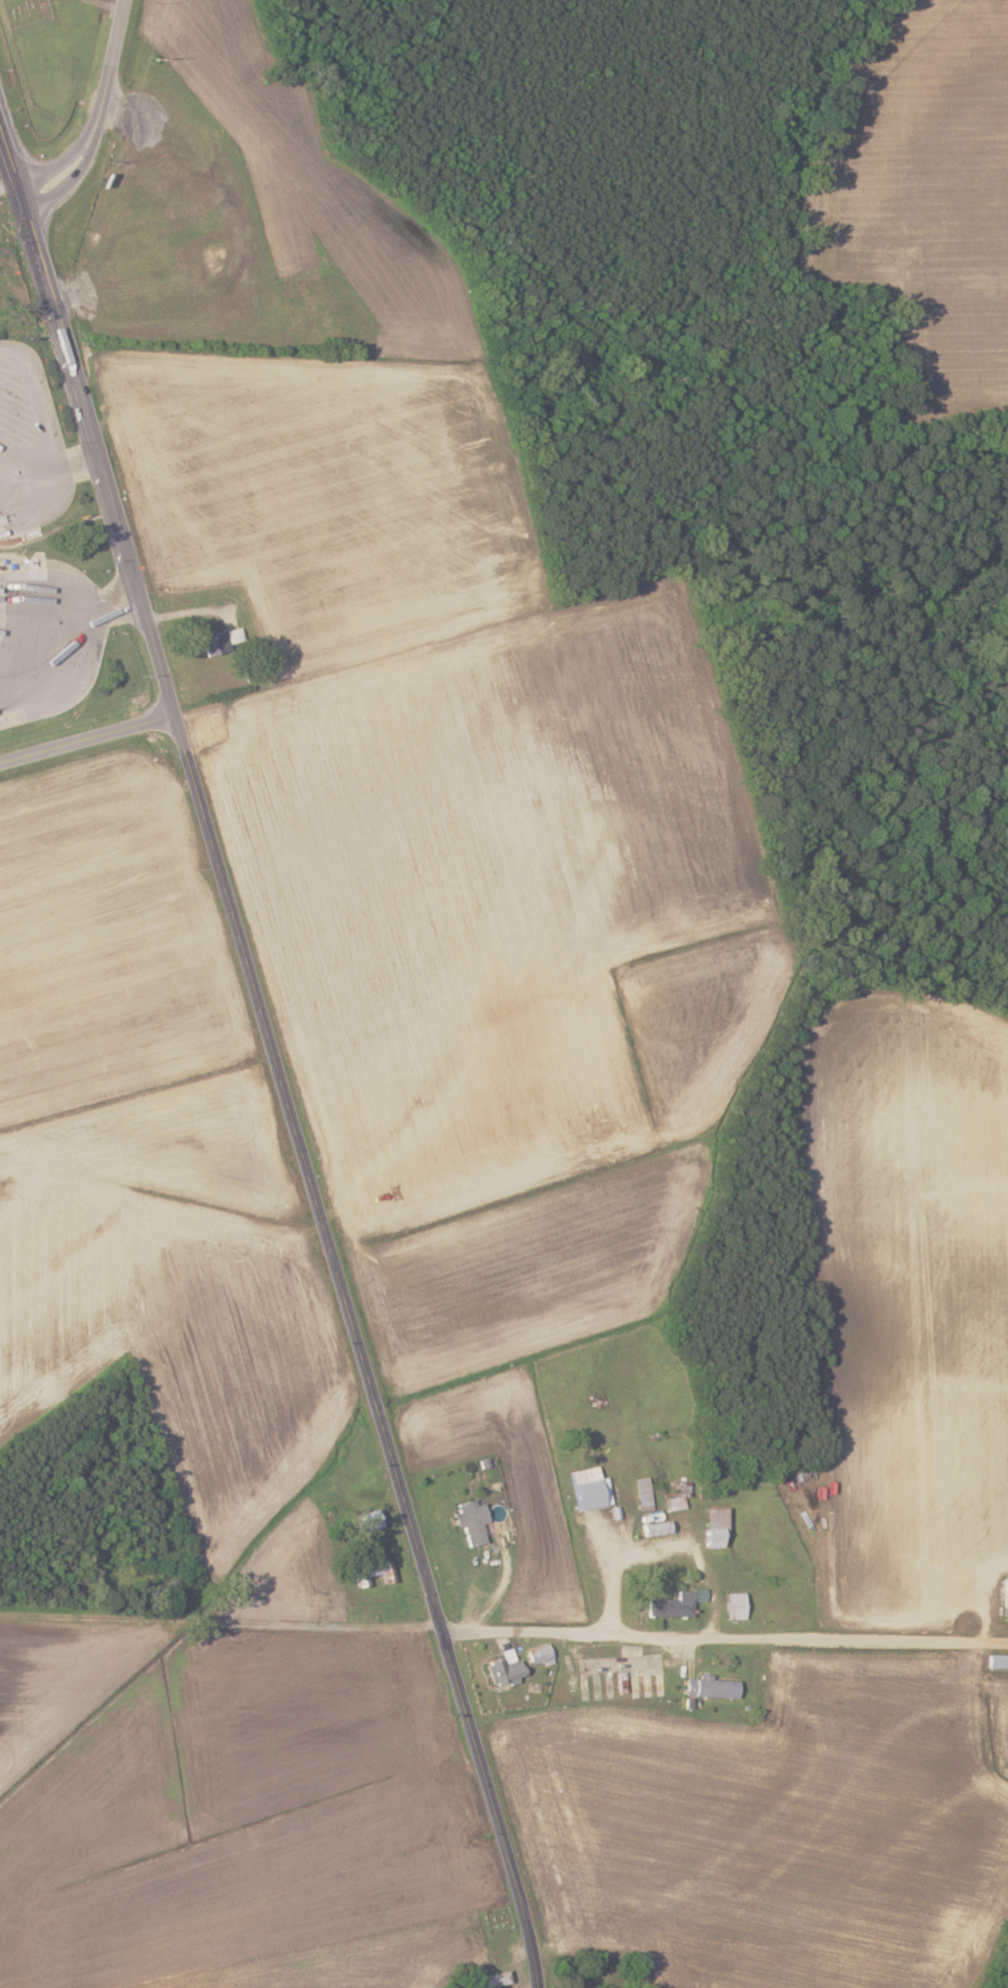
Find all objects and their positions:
road: (106, 119)
road: (13, 165)
road: (53, 461)
road: (137, 551)
road: (49, 626)
building: (220, 639)
road: (91, 738)
road: (394, 1442)
building: (588, 1488)
building: (470, 1521)
building: (712, 1525)
road: (665, 1548)
building: (373, 1571)
building: (675, 1603)
building: (1002, 1604)
building: (733, 1605)
road: (728, 1633)
building: (539, 1654)
building: (997, 1661)
building: (504, 1669)
building: (709, 1687)

